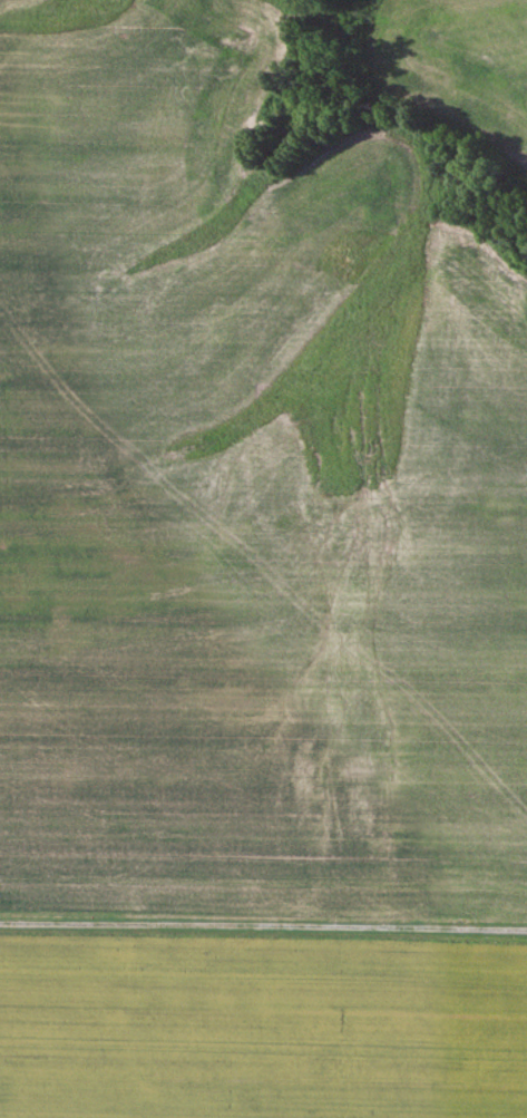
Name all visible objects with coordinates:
road: (263, 936)

